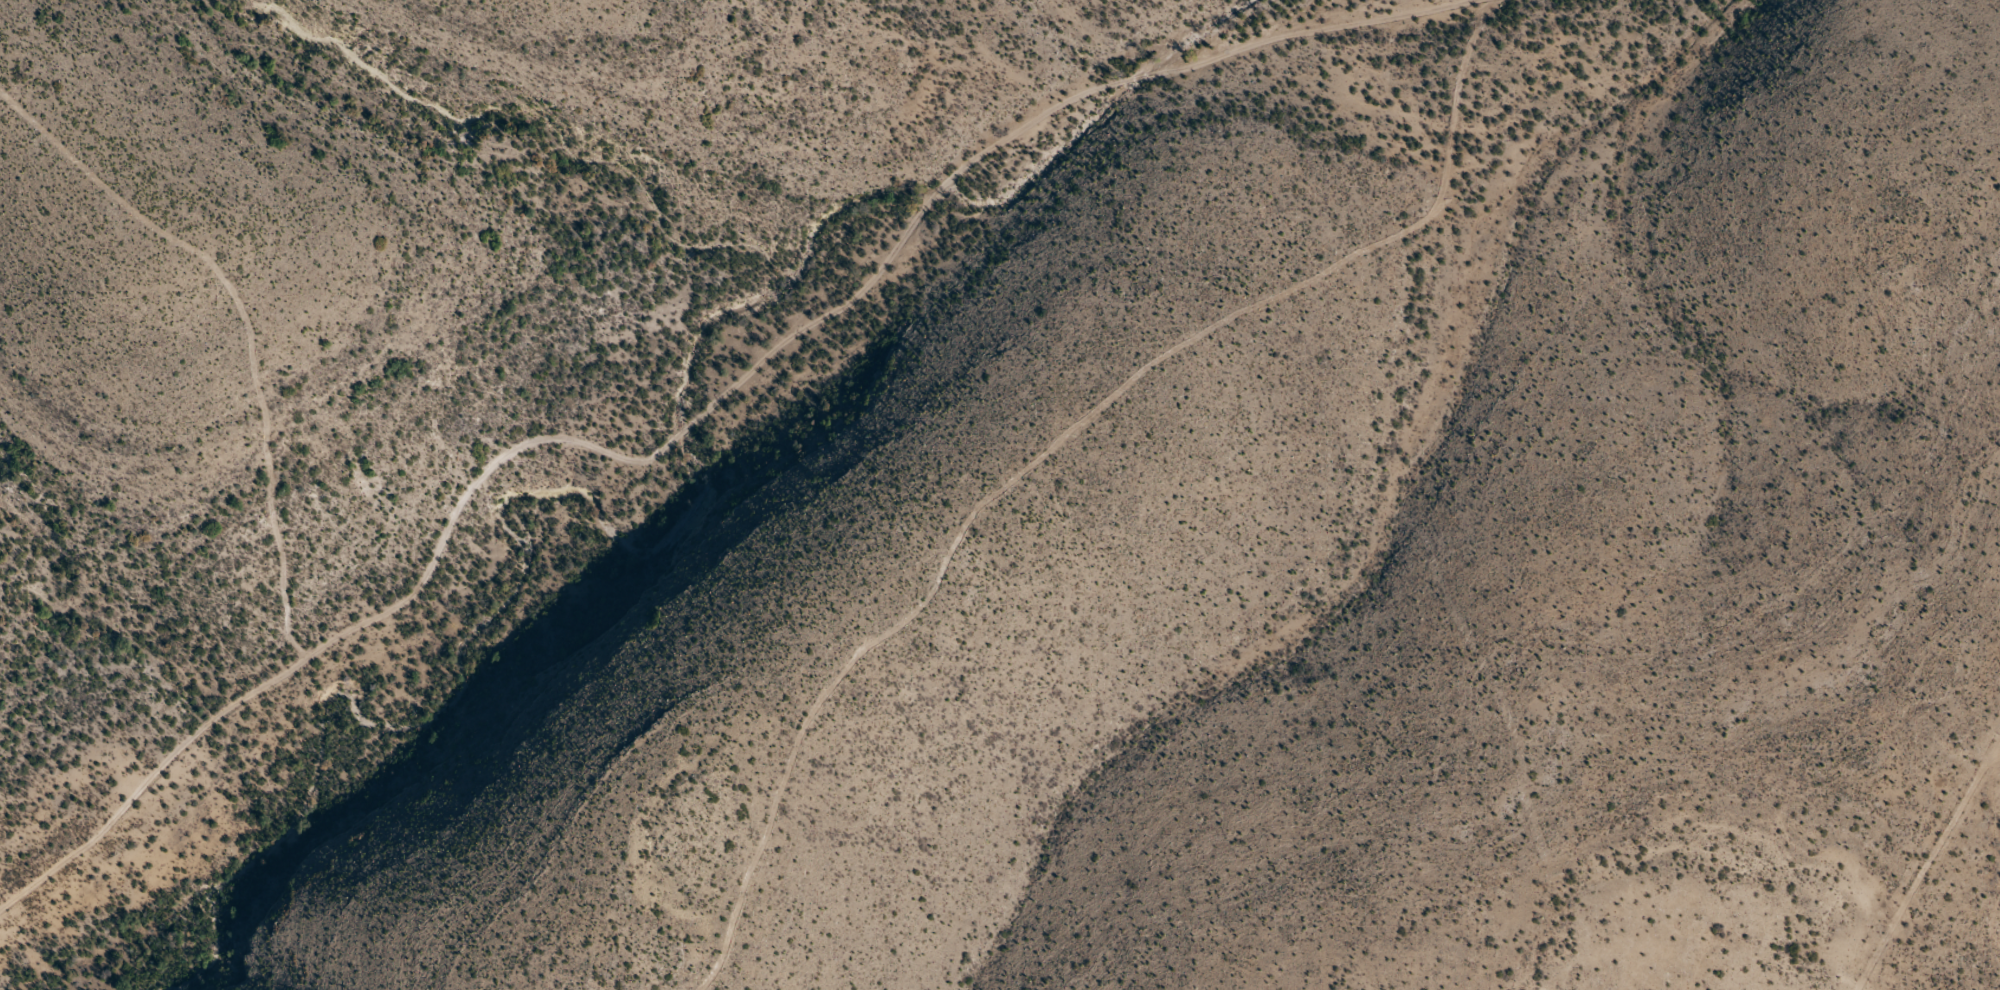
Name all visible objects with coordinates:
road: (667, 419)

